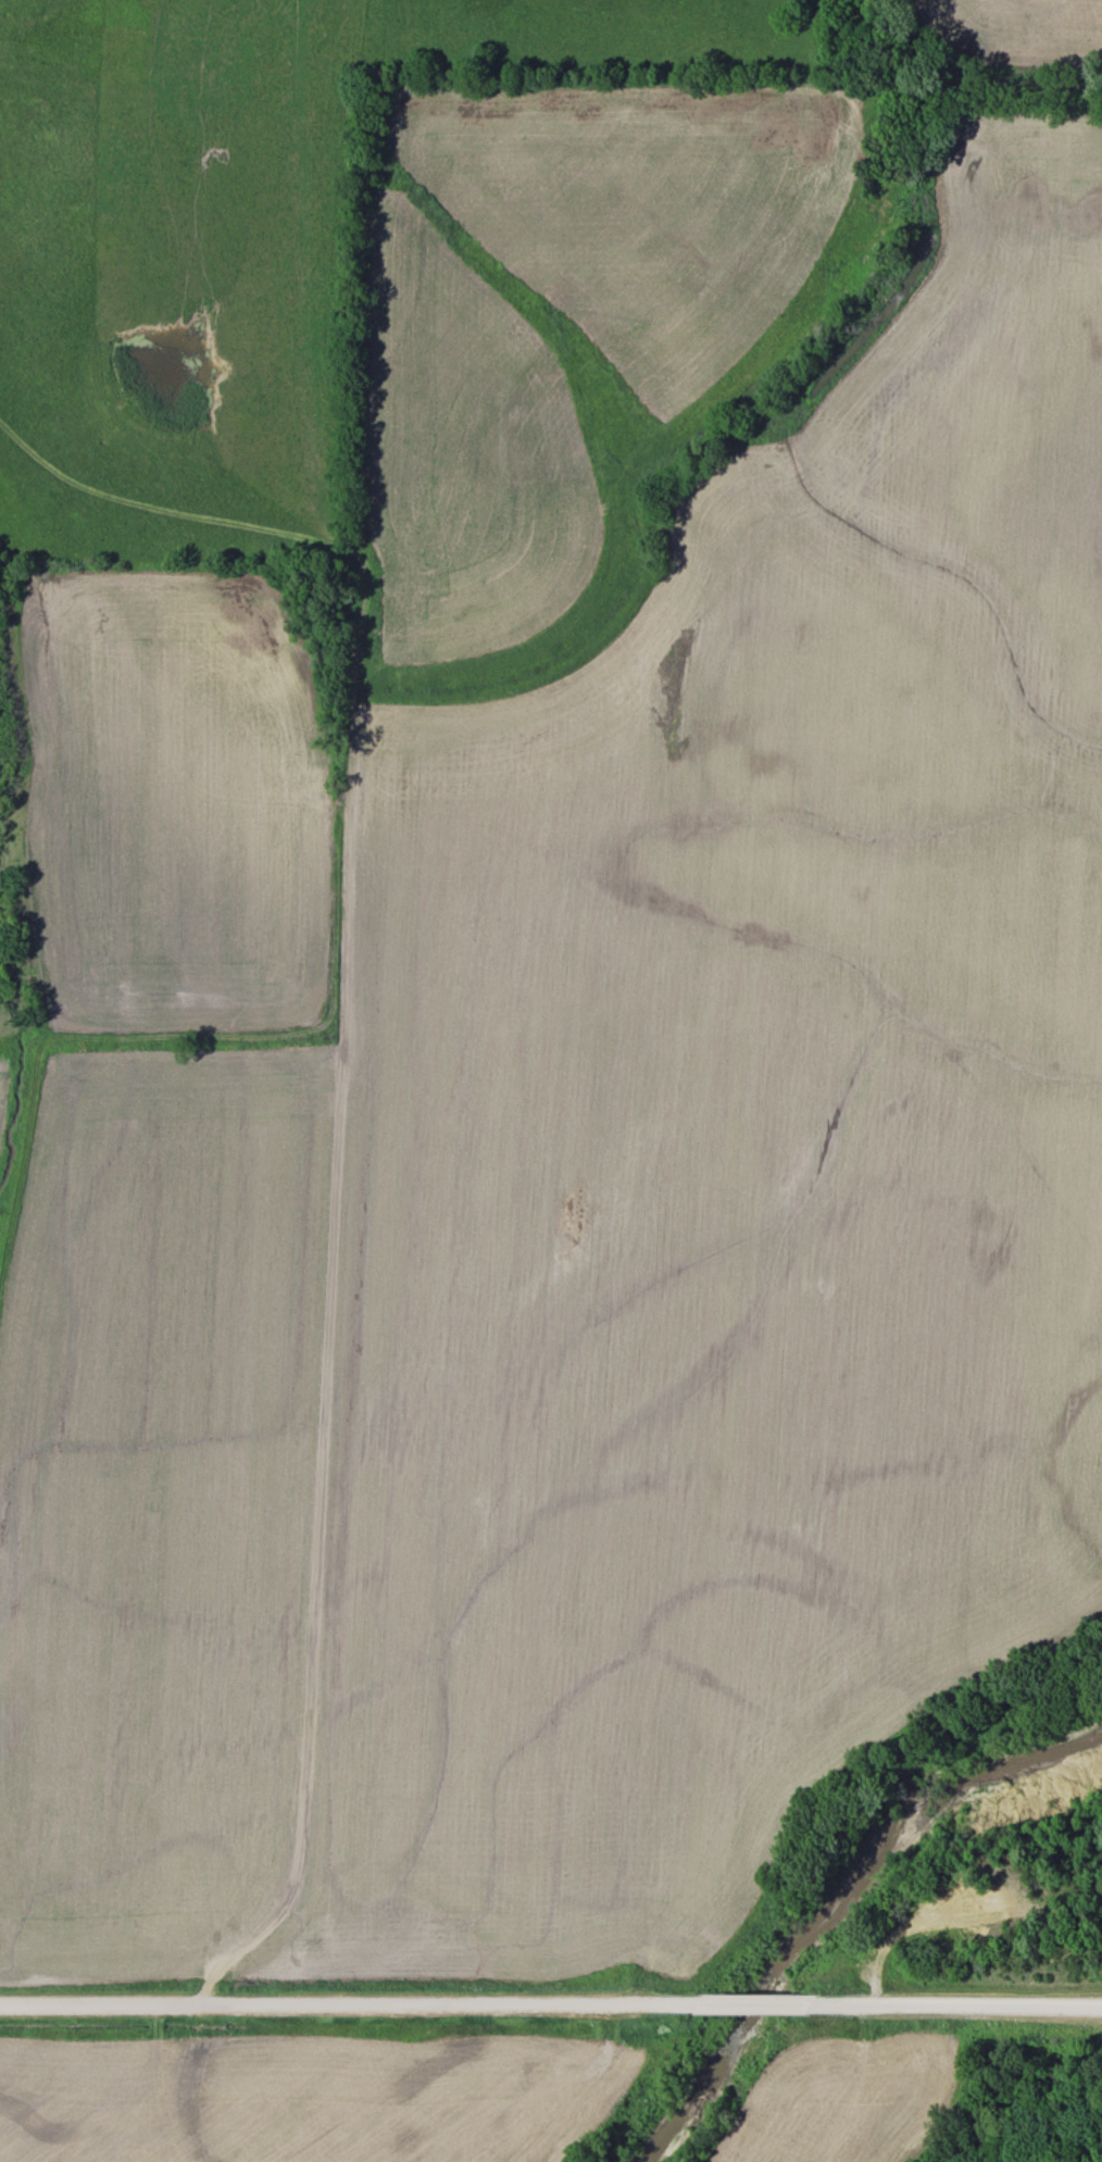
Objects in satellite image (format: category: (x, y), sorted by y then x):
road: (551, 2004)

